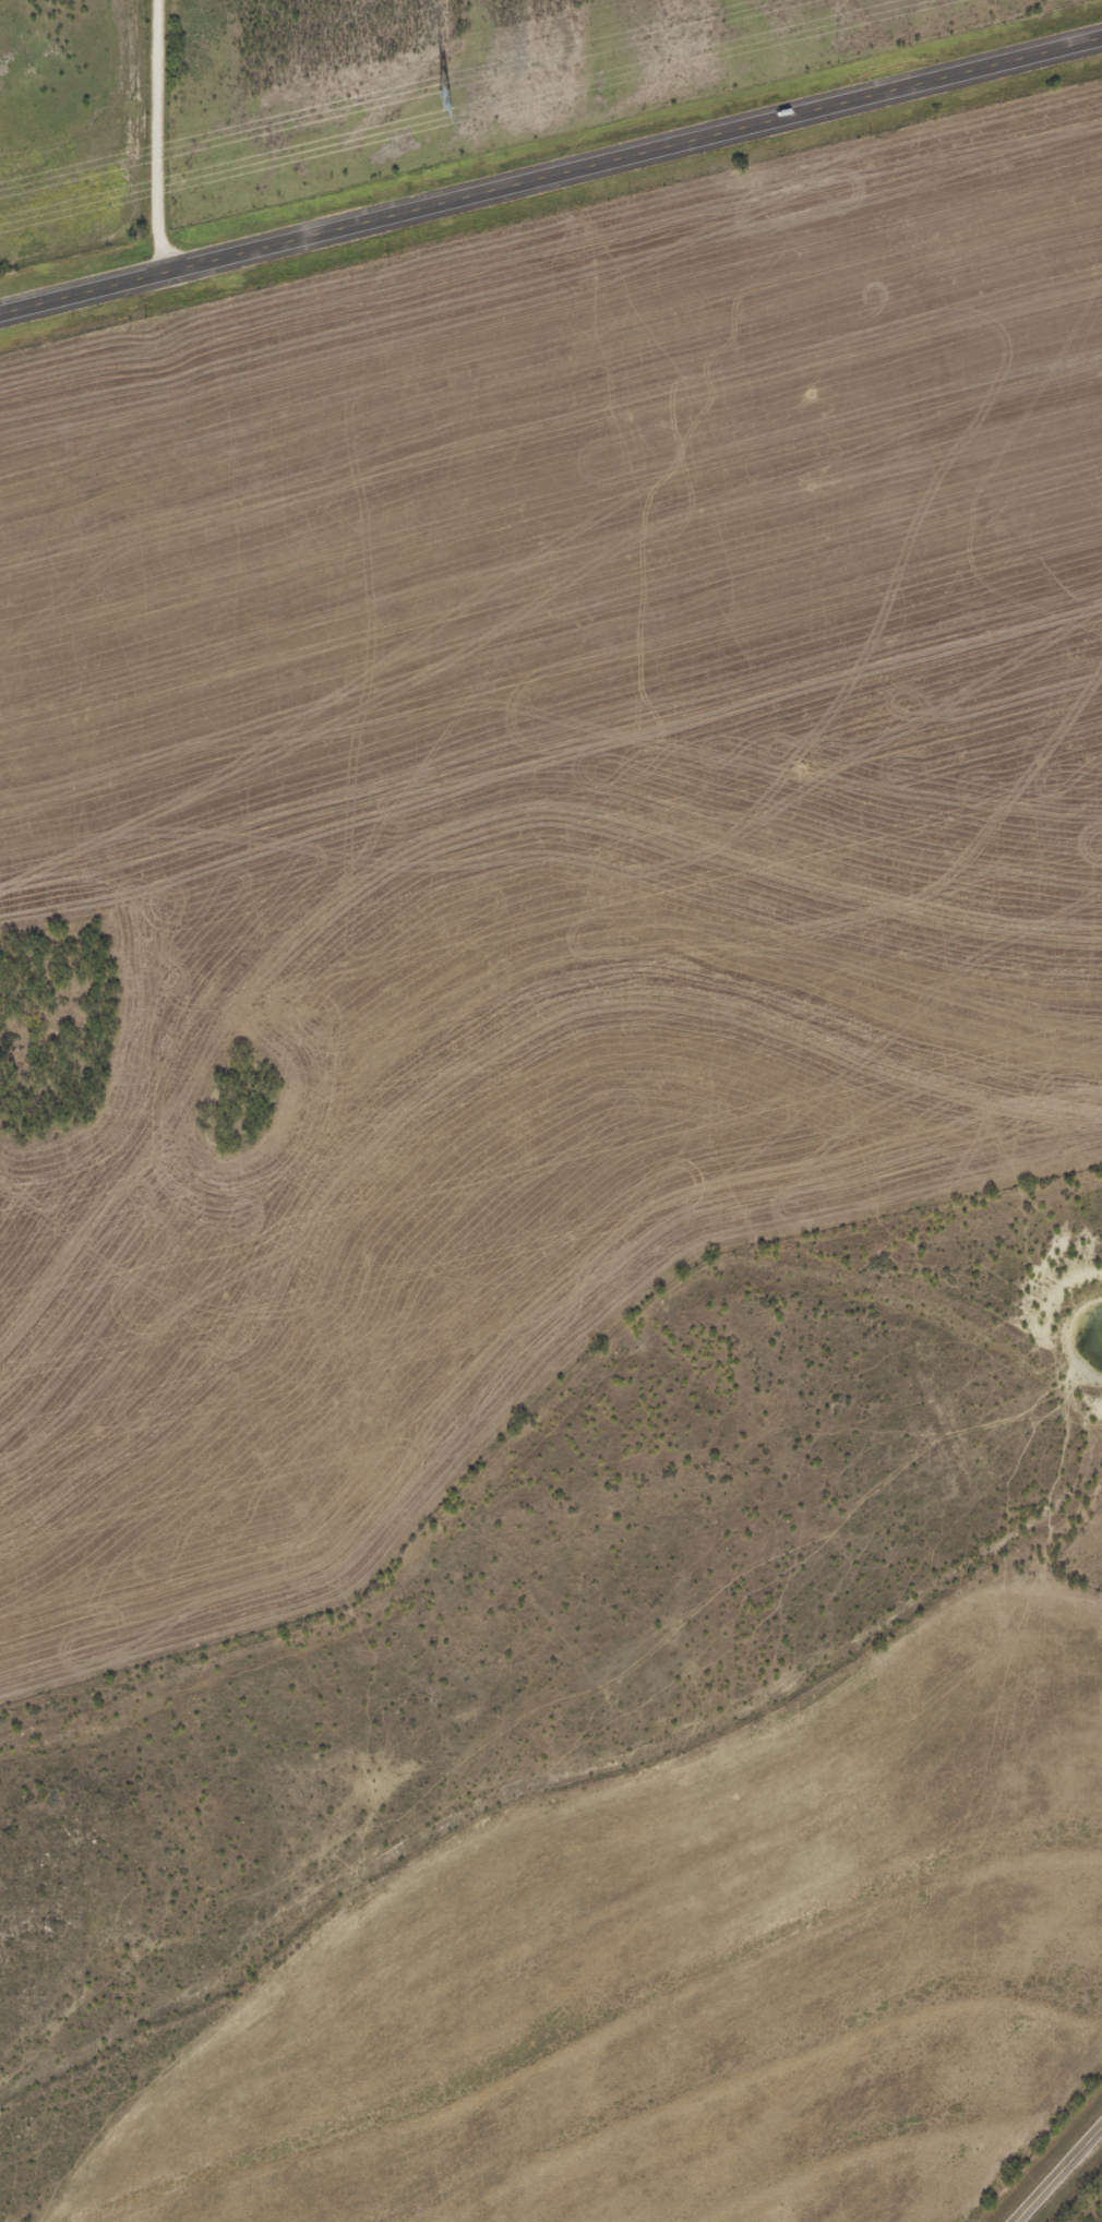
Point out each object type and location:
power tower: (441, 98)
road: (160, 141)
road: (551, 182)
road: (1059, 2175)

